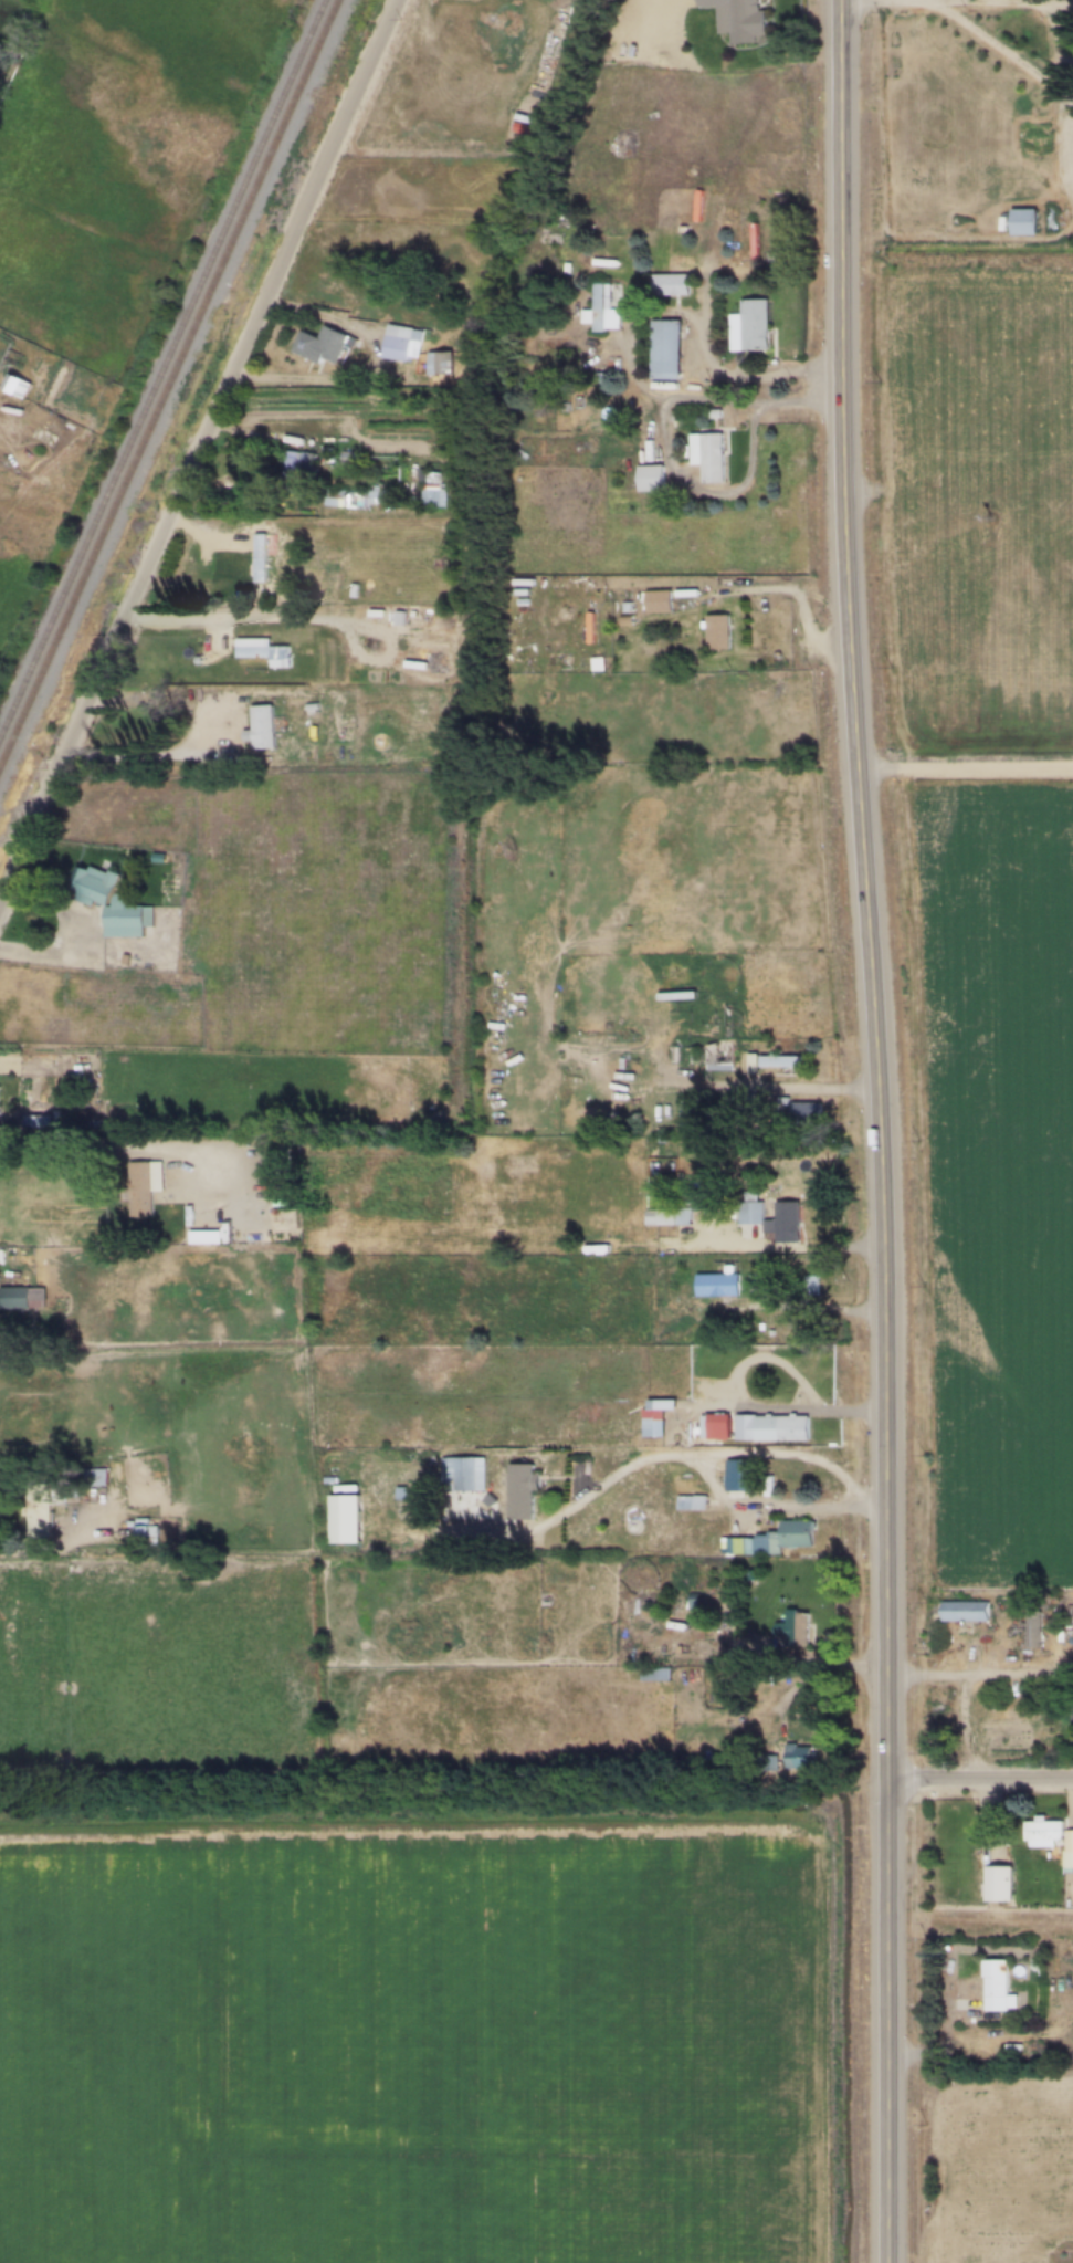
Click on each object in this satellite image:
road: (915, 1)
building: (739, 19)
road: (999, 51)
building: (891, 70)
road: (1067, 72)
building: (1034, 223)
building: (672, 284)
building: (601, 311)
building: (750, 326)
building: (403, 344)
building: (323, 346)
building: (666, 350)
building: (440, 364)
railway: (162, 369)
road: (720, 373)
railway: (169, 384)
building: (18, 386)
road: (197, 443)
building: (709, 455)
road: (751, 463)
building: (653, 479)
building: (433, 489)
road: (803, 544)
building: (238, 554)
building: (660, 601)
road: (303, 616)
building: (719, 632)
building: (154, 667)
building: (263, 726)
road: (129, 754)
building: (114, 904)
building: (722, 1058)
building: (779, 1064)
building: (807, 1112)
road: (876, 1131)
road: (39, 1151)
building: (281, 1180)
building: (144, 1186)
building: (788, 1211)
building: (669, 1217)
building: (545, 1235)
building: (206, 1237)
road: (793, 1246)
building: (756, 1282)
building: (718, 1286)
building: (810, 1286)
building: (22, 1298)
road: (806, 1308)
building: (656, 1419)
building: (716, 1427)
building: (772, 1428)
road: (676, 1455)
building: (463, 1476)
building: (744, 1477)
building: (523, 1491)
building: (43, 1502)
building: (692, 1504)
road: (764, 1509)
building: (144, 1532)
building: (776, 1539)
road: (17, 1553)
building: (966, 1612)
building: (798, 1630)
building: (1034, 1633)
road: (980, 1675)
building: (800, 1757)
road: (980, 1778)
building: (1001, 1884)
building: (999, 1988)

